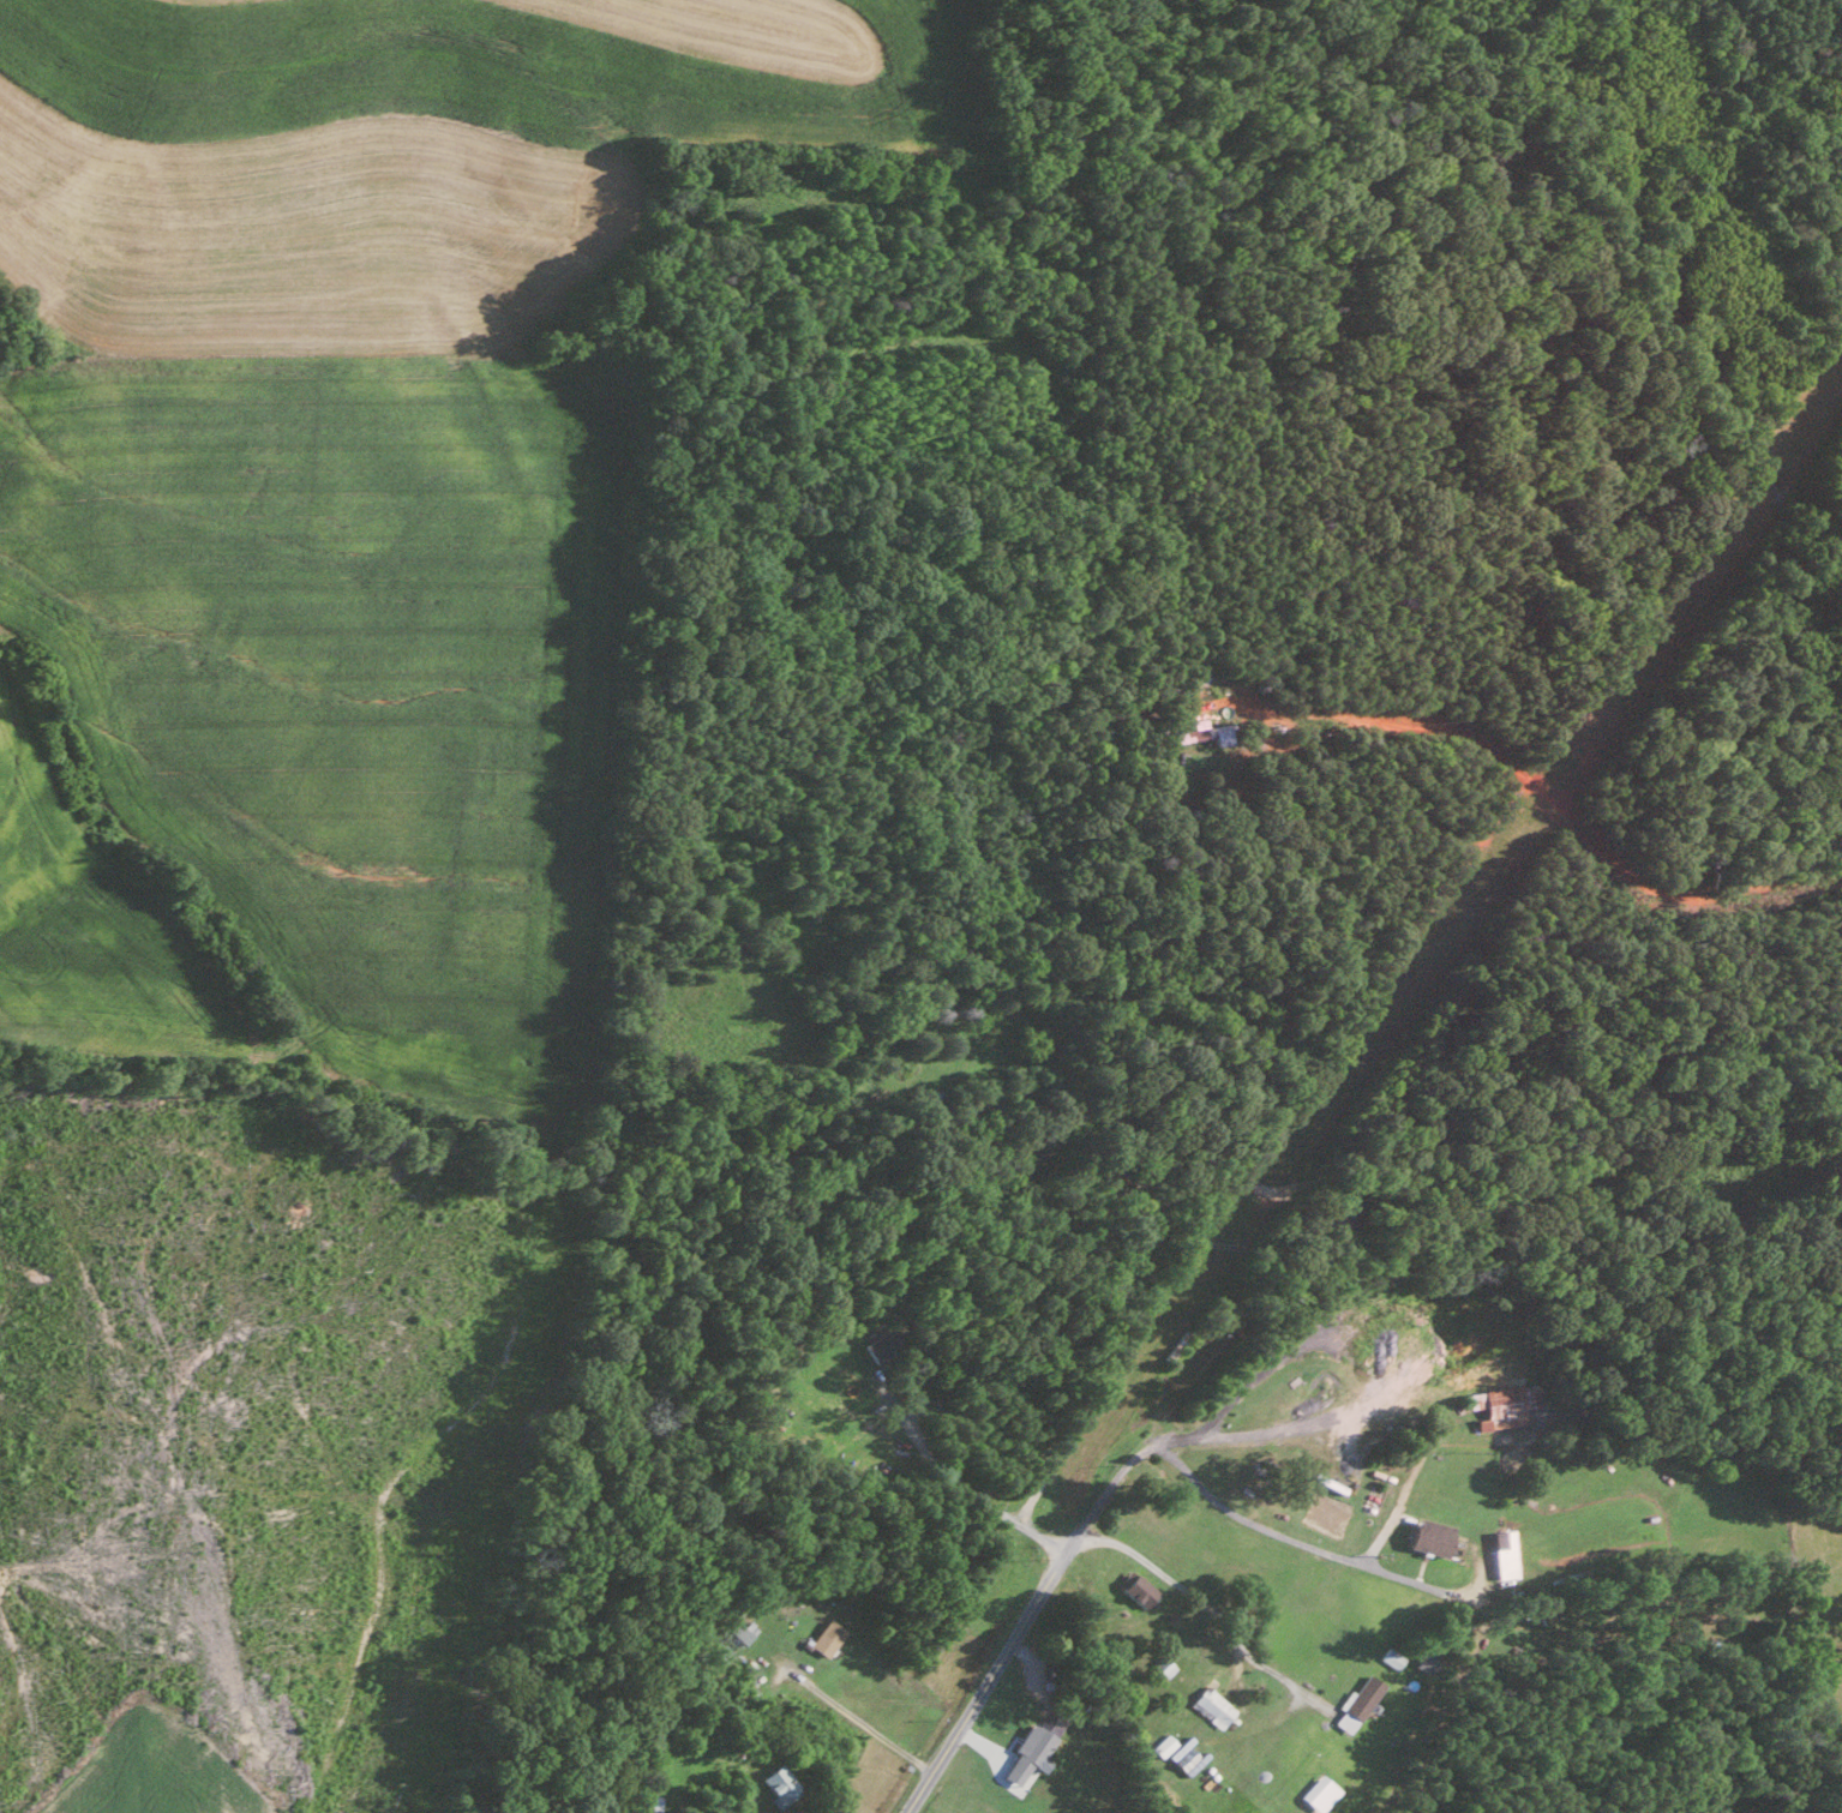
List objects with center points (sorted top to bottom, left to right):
building: (1192, 731)
building: (1220, 733)
road: (1579, 832)
building: (878, 1347)
building: (1500, 1405)
road: (1405, 1482)
road: (954, 1483)
road: (1268, 1520)
building: (1428, 1537)
building: (1501, 1554)
building: (1136, 1587)
road: (1200, 1599)
road: (1020, 1616)
building: (736, 1629)
building: (824, 1637)
building: (1388, 1656)
building: (1424, 1657)
building: (1355, 1701)
building: (1210, 1705)
road: (859, 1719)
building: (1162, 1743)
building: (1027, 1751)
building: (1184, 1757)
building: (778, 1783)
building: (1316, 1791)
building: (738, 1795)

